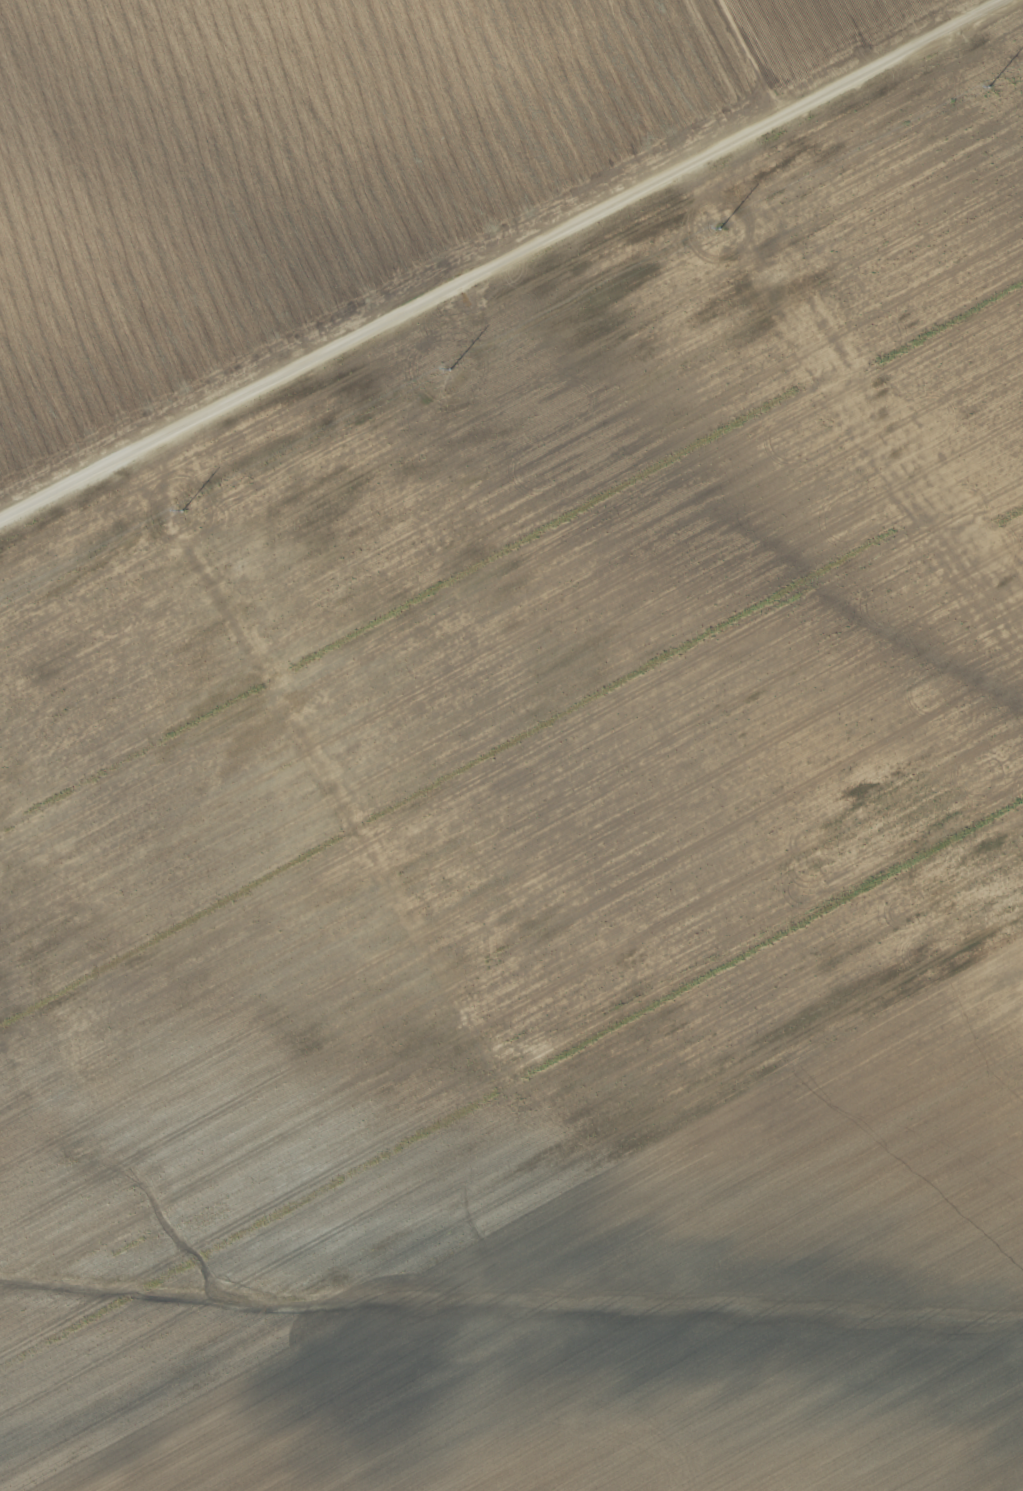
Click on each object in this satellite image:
road: (507, 260)
power tower: (776, 277)
power tower: (509, 425)
power tower: (243, 570)

